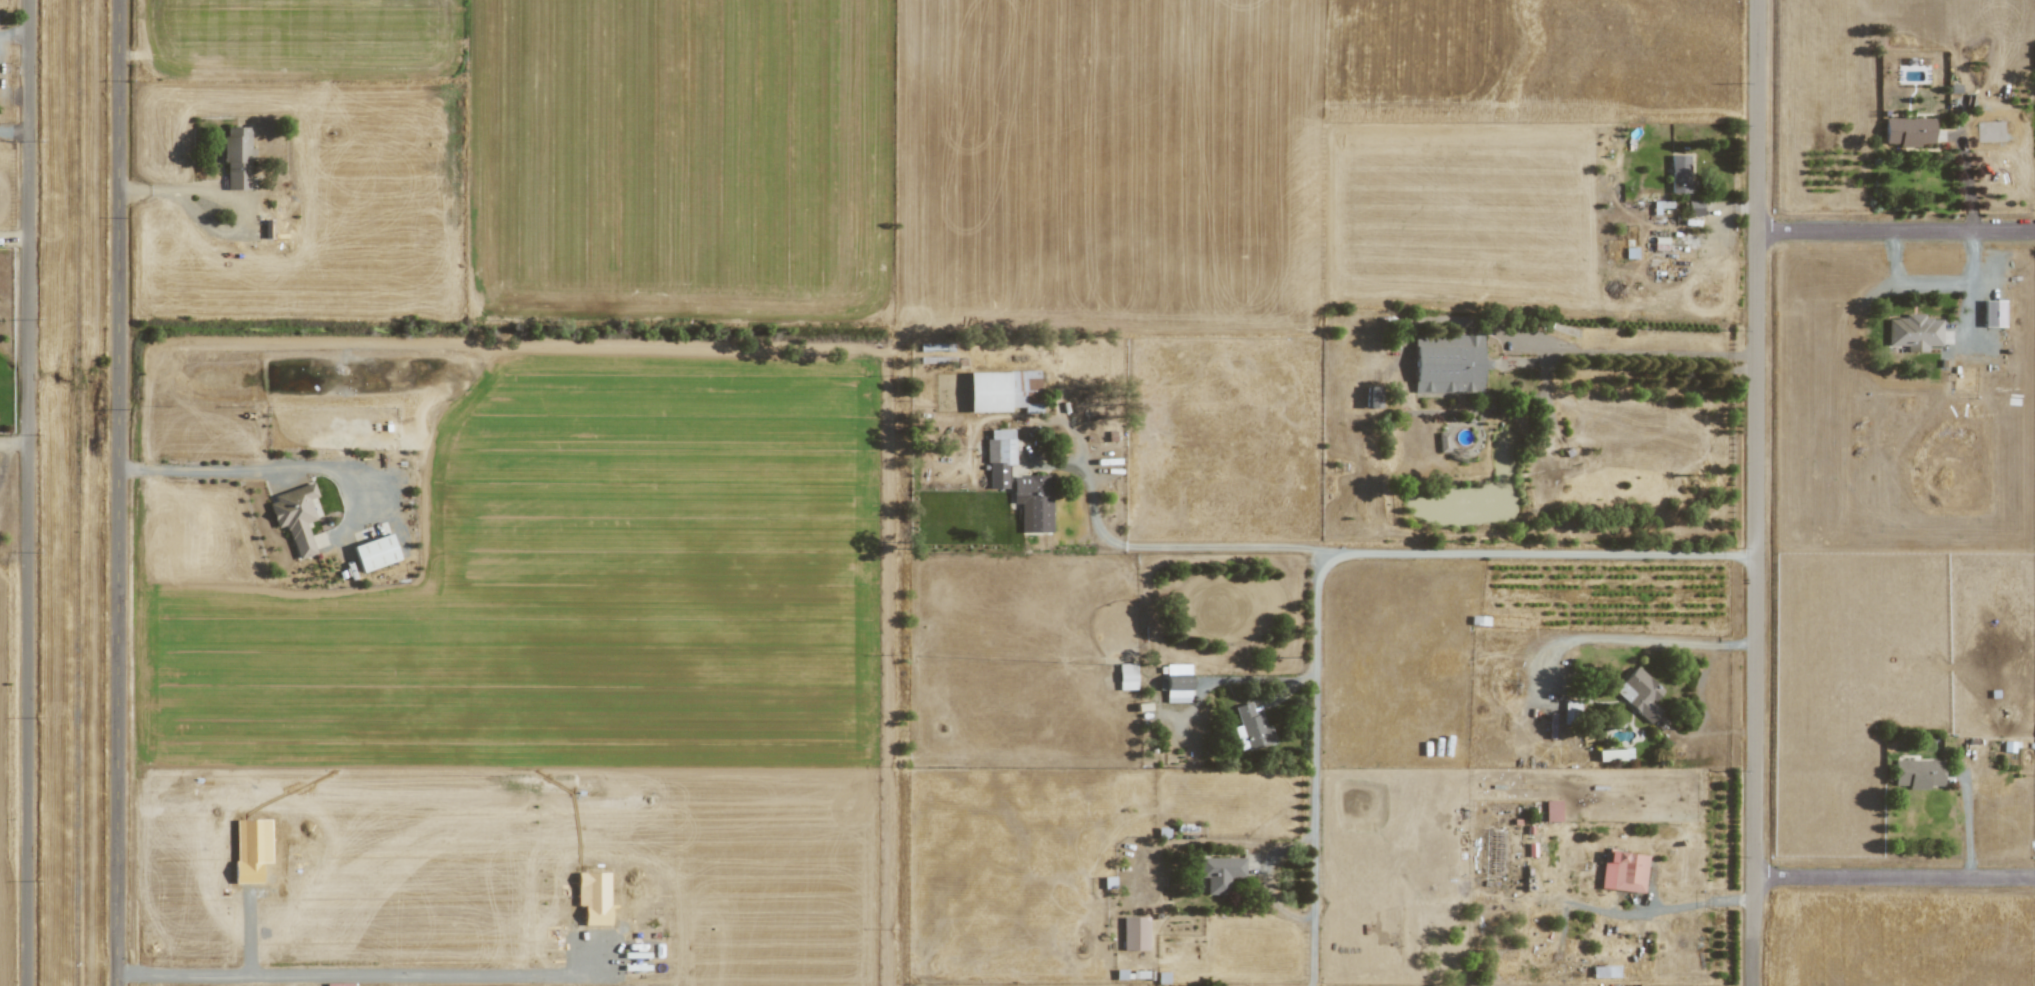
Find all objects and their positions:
building: (1908, 131)
building: (237, 158)
building: (1680, 175)
road: (1967, 175)
road: (236, 200)
building: (1660, 205)
building: (1694, 208)
road: (1734, 210)
road: (1896, 229)
road: (1934, 283)
road: (1969, 313)
building: (1992, 313)
building: (1913, 332)
road: (1561, 350)
building: (1448, 363)
building: (1004, 391)
road: (1548, 392)
building: (1371, 396)
road: (1081, 437)
road: (14, 441)
building: (1443, 441)
building: (999, 457)
road: (1056, 465)
road: (293, 467)
road: (1756, 492)
road: (28, 493)
road: (118, 493)
building: (1033, 502)
building: (295, 516)
road: (391, 521)
road: (1179, 546)
building: (375, 552)
road: (1328, 559)
road: (1606, 639)
building: (1126, 676)
road: (1259, 678)
building: (1177, 682)
building: (1639, 693)
road: (1705, 707)
building: (1253, 727)
building: (1614, 754)
building: (1917, 773)
building: (1552, 810)
road: (1969, 822)
road: (1236, 844)
building: (1493, 852)
building: (1623, 871)
building: (1220, 872)
road: (1894, 874)
road: (1271, 895)
road: (1654, 912)
road: (1645, 929)
building: (1135, 933)
building: (1604, 971)

